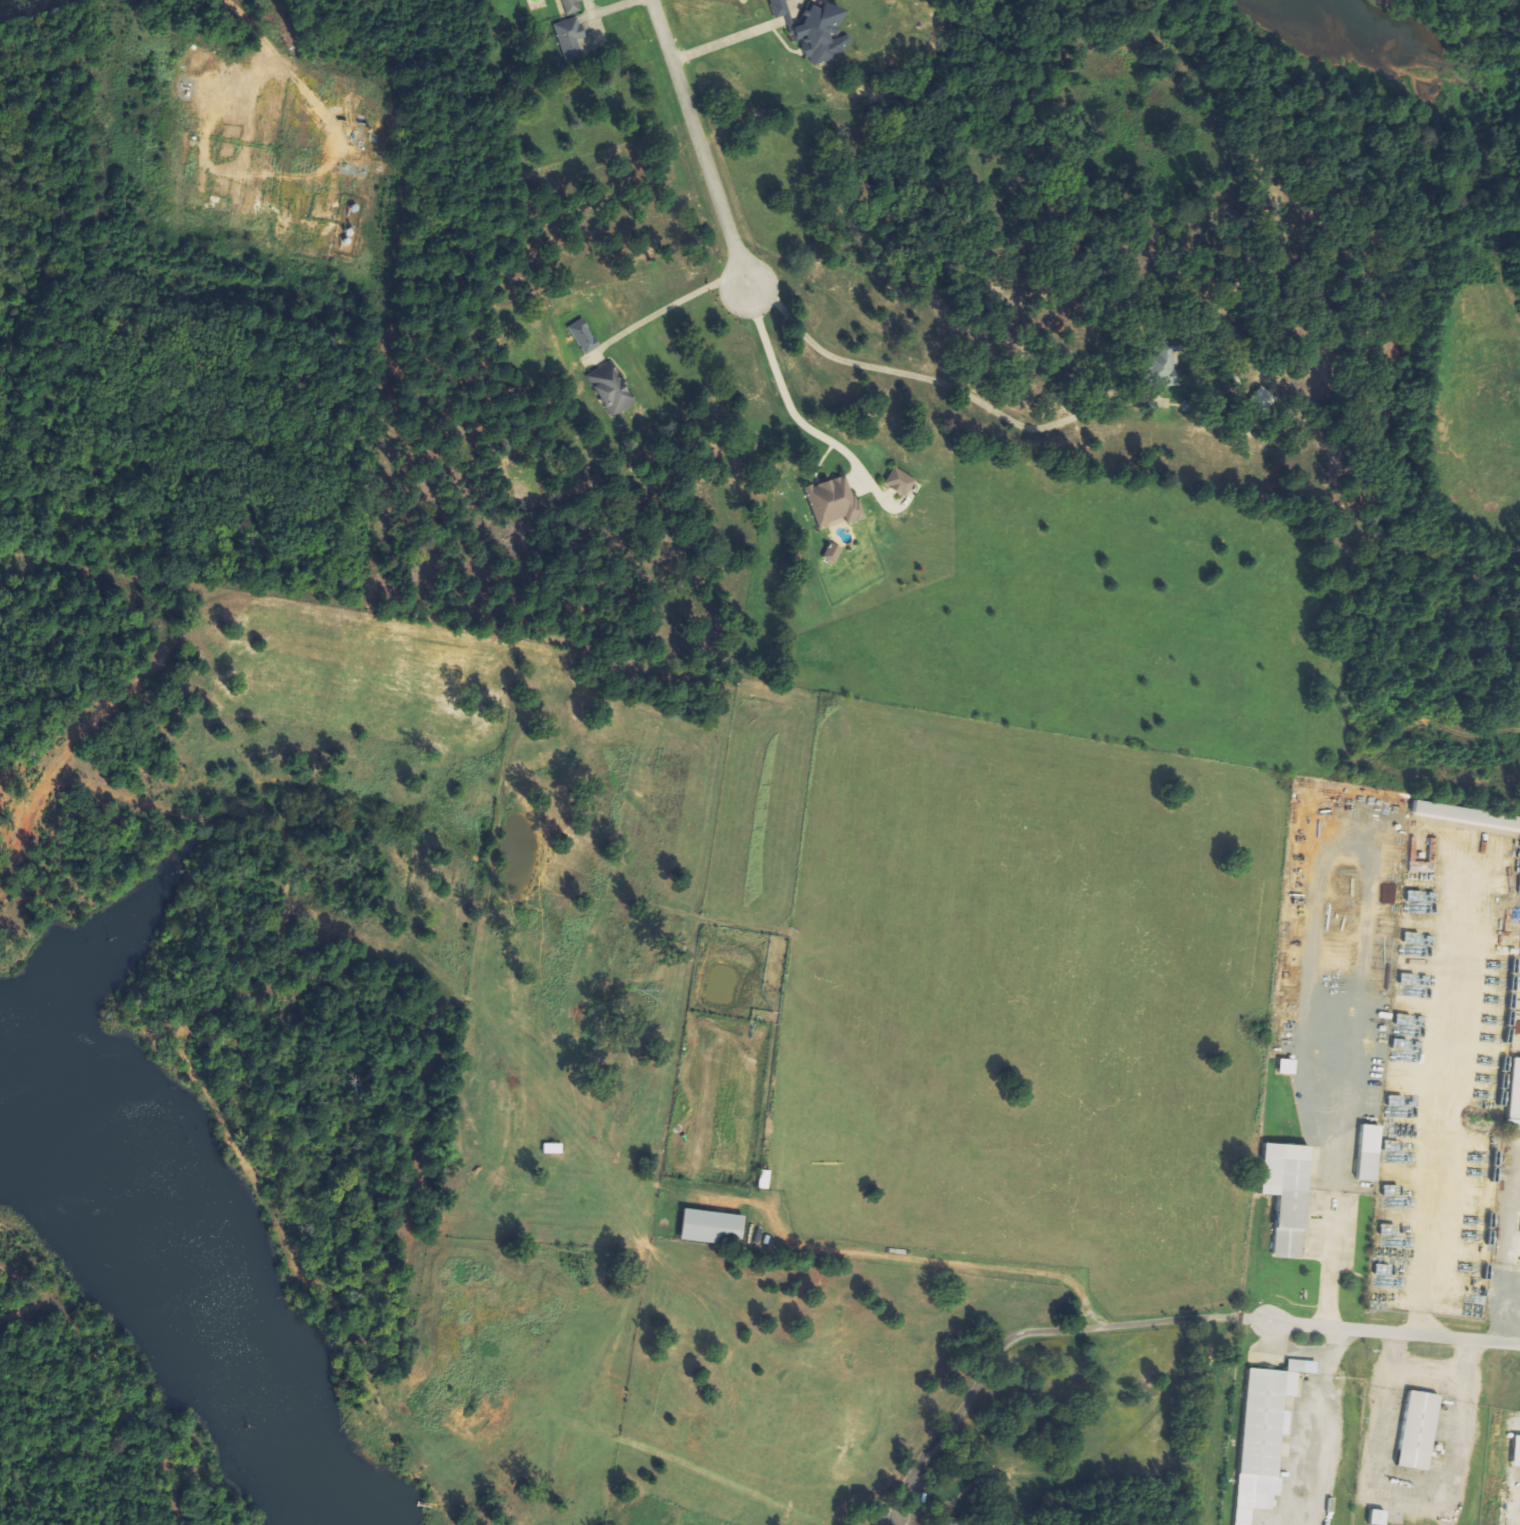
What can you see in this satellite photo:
building: (570, 6)
building: (779, 7)
building: (818, 33)
building: (567, 37)
road: (699, 144)
building: (581, 335)
building: (1158, 365)
road: (783, 387)
building: (609, 389)
building: (902, 482)
building: (836, 502)
building: (834, 553)
building: (1467, 815)
building: (1389, 894)
building: (1517, 1092)
building: (550, 1147)
building: (1367, 1151)
building: (767, 1180)
building: (1285, 1191)
building: (709, 1227)
road: (990, 1268)
road: (1394, 1333)
road: (968, 1399)
road: (1205, 1416)
building: (1416, 1428)
building: (1261, 1438)
road: (724, 1481)
building: (942, 1521)

